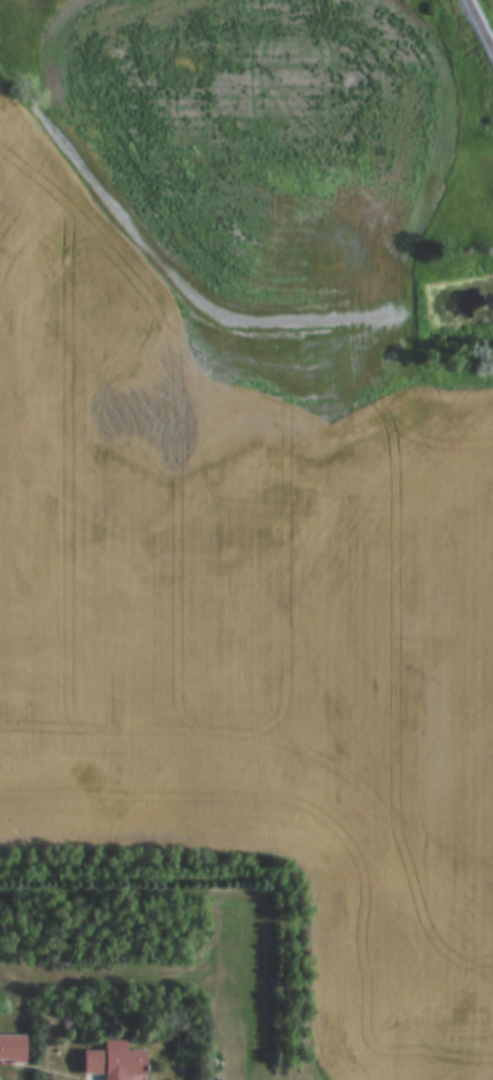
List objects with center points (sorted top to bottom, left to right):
railway: (479, 26)
building: (13, 1048)
building: (118, 1062)

